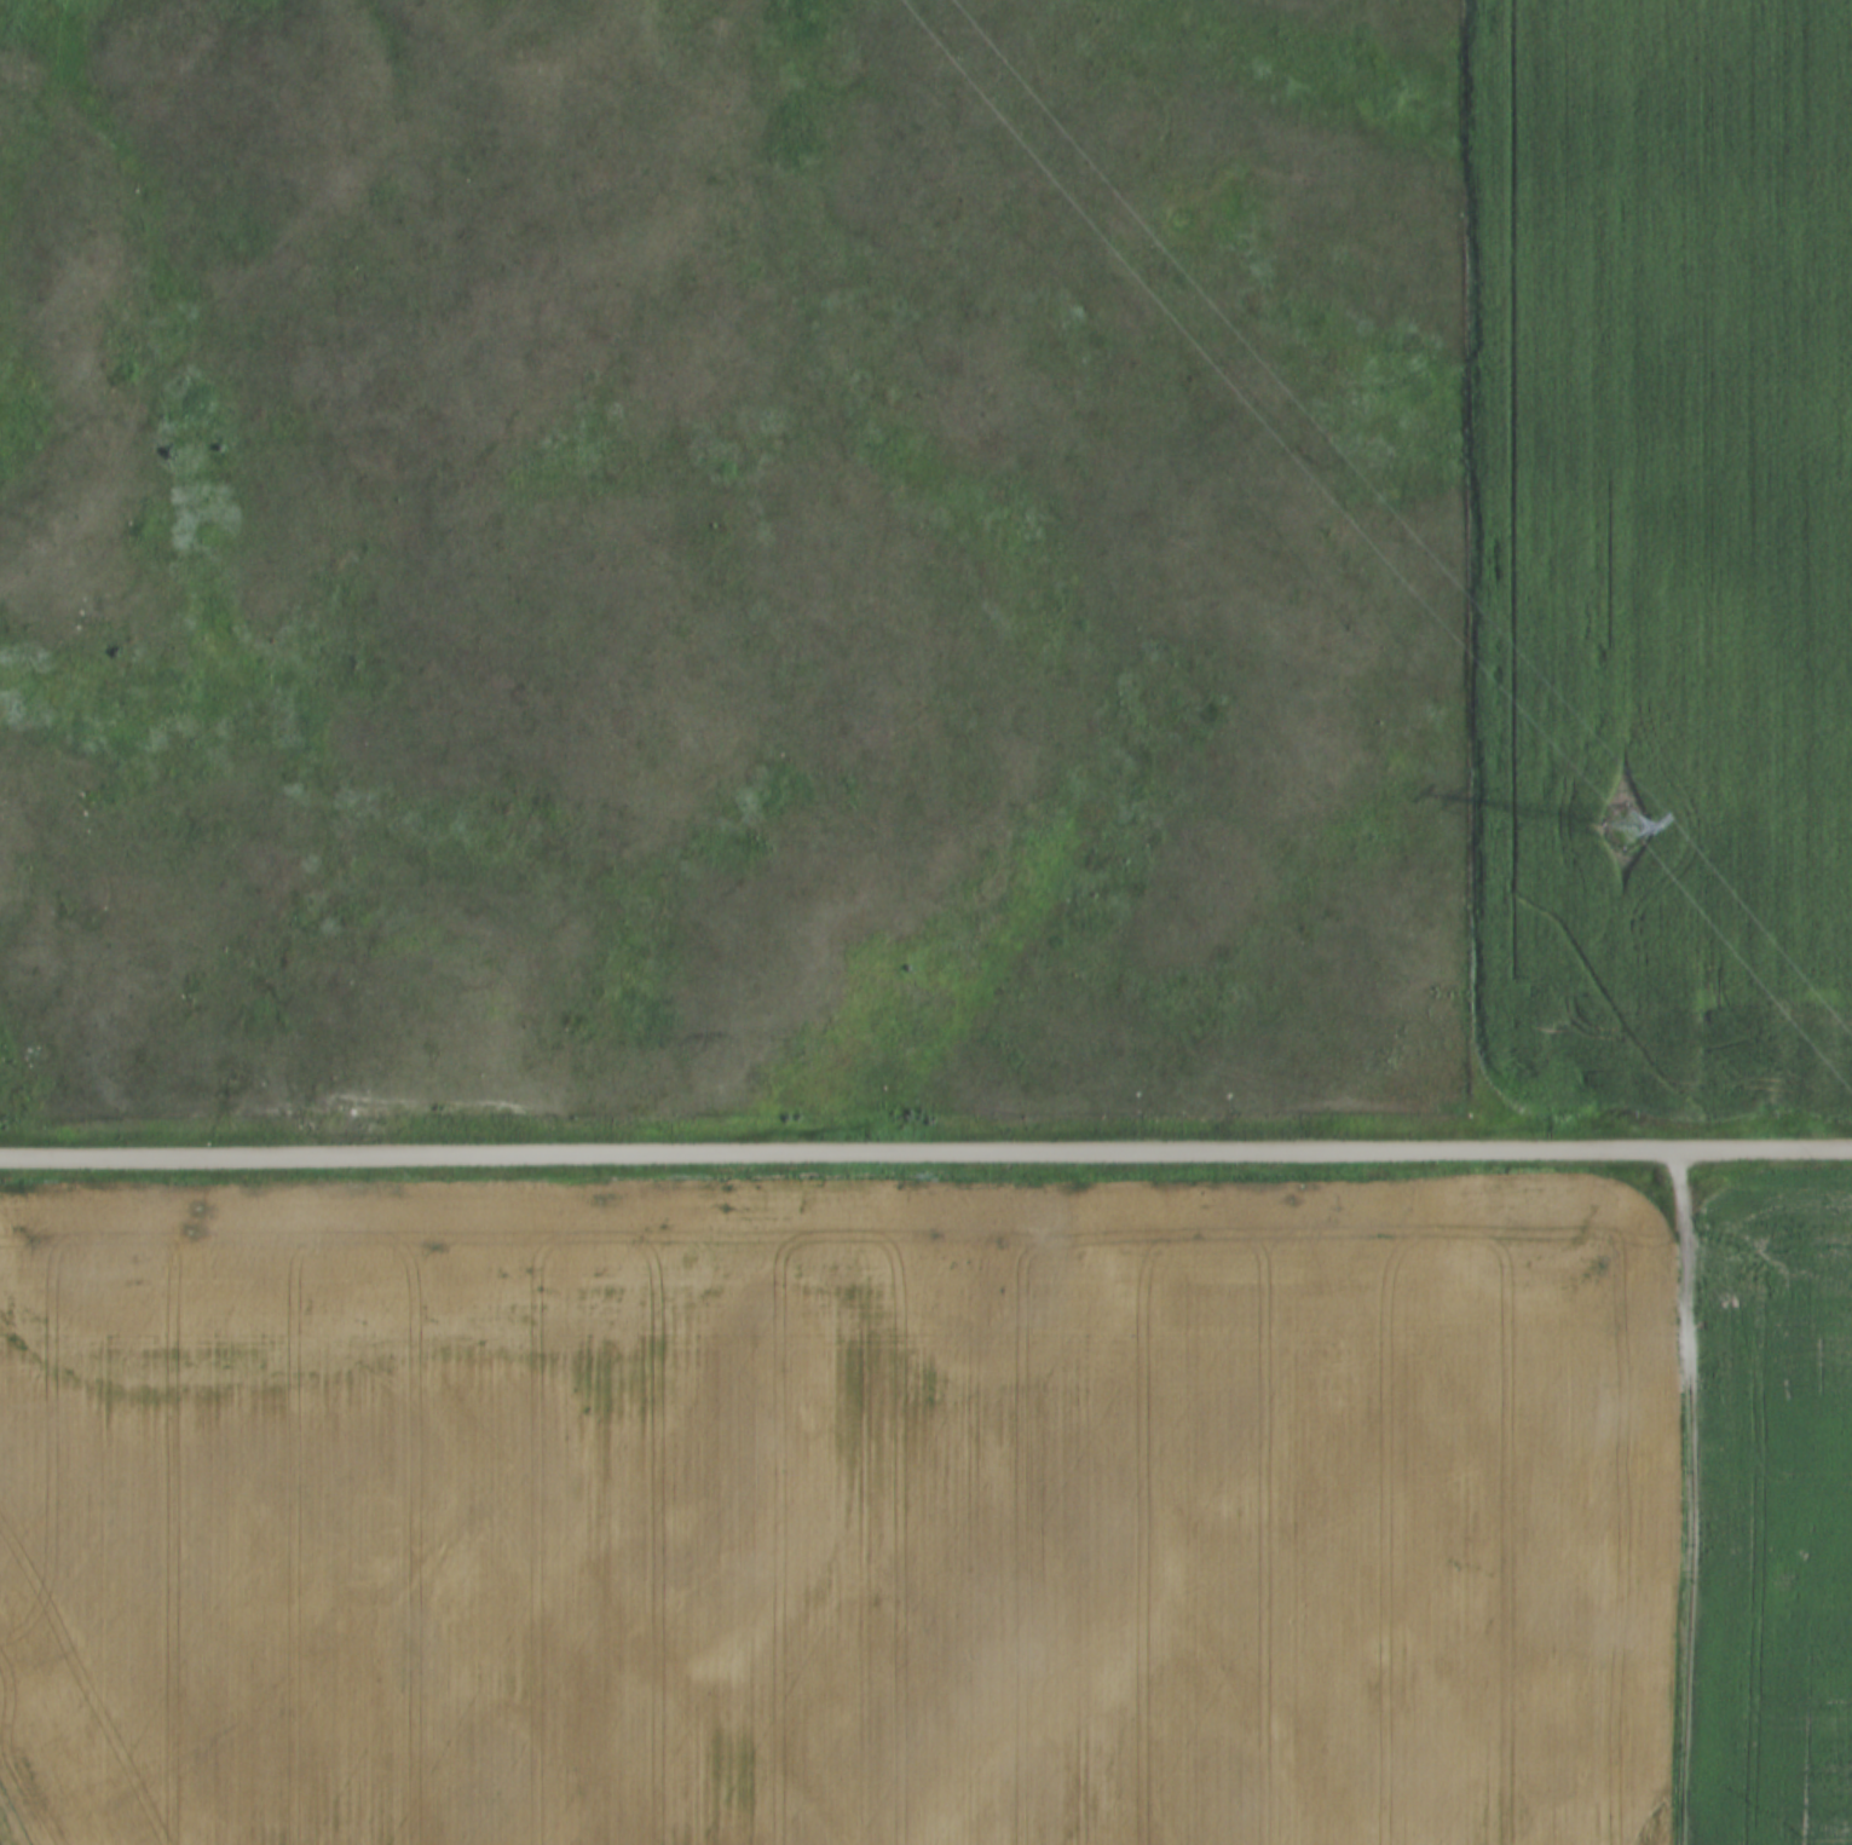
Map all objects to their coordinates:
power tower: (1625, 831)
road: (925, 1149)
road: (1675, 1497)

